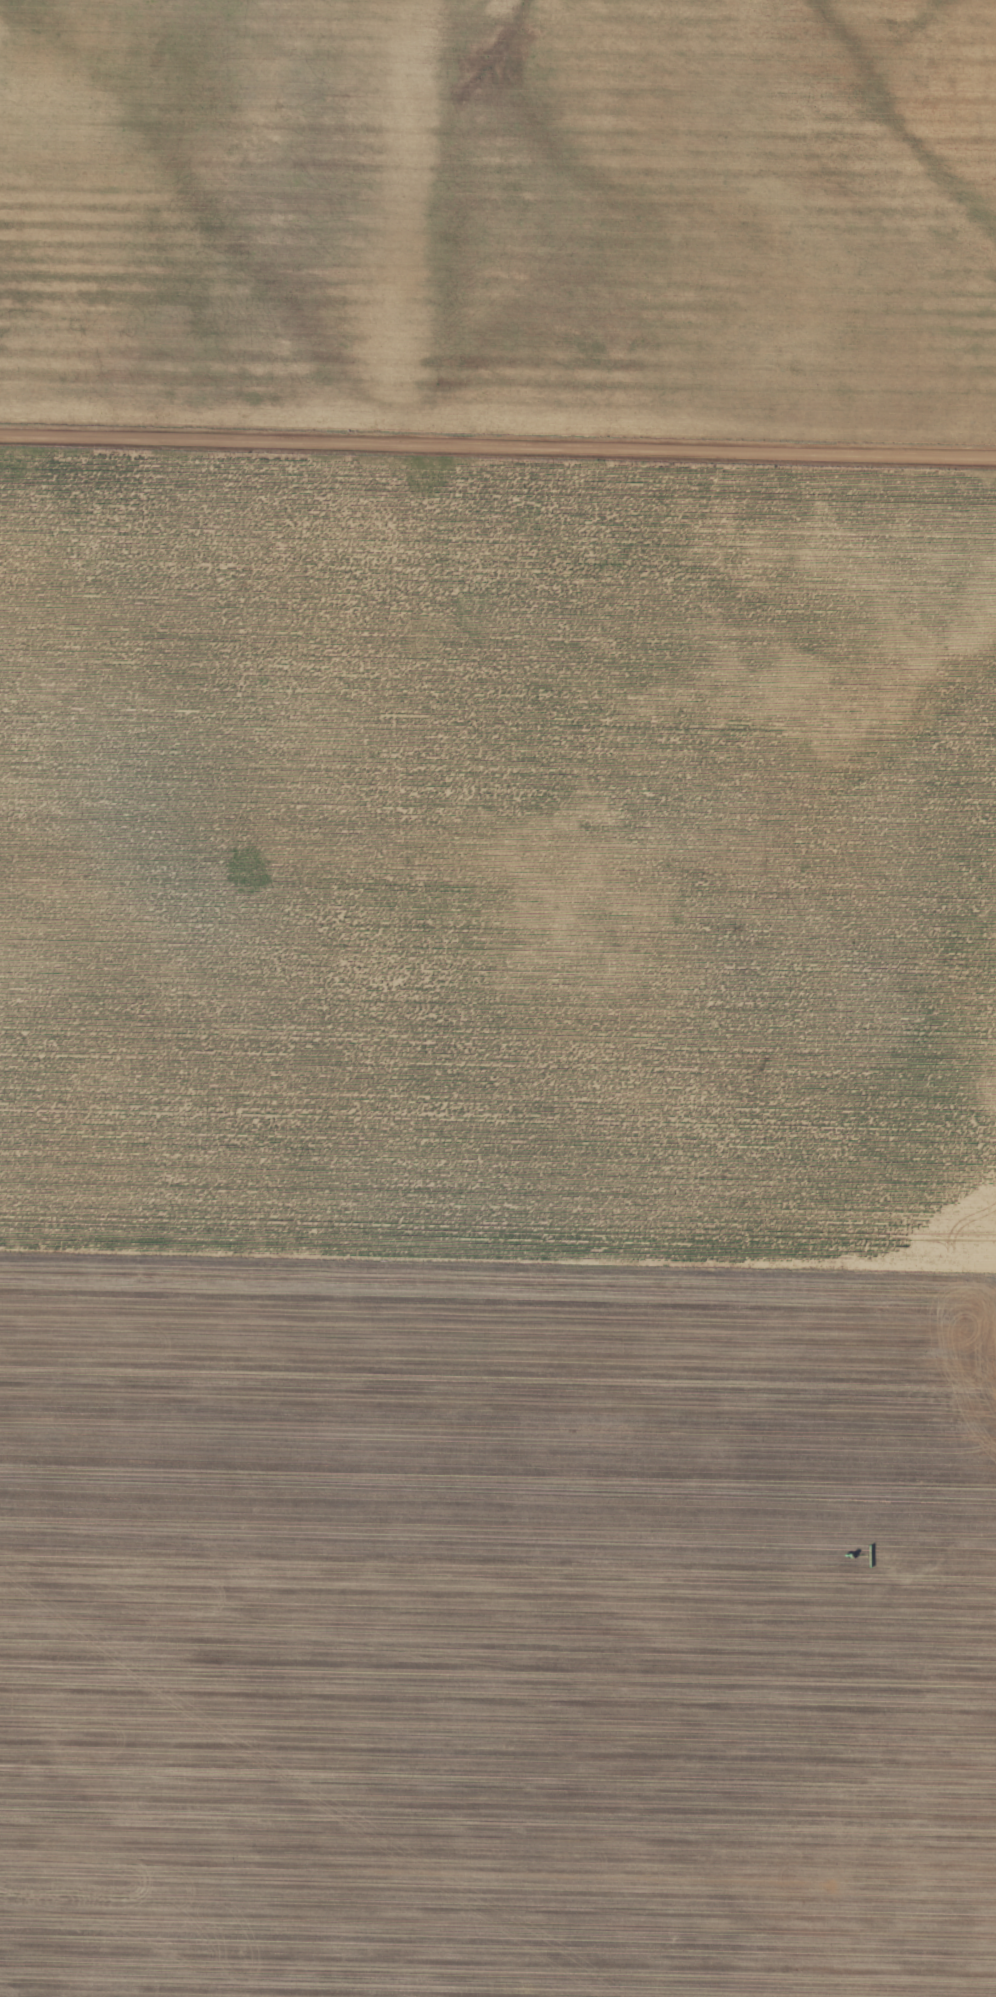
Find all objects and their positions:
road: (498, 443)

